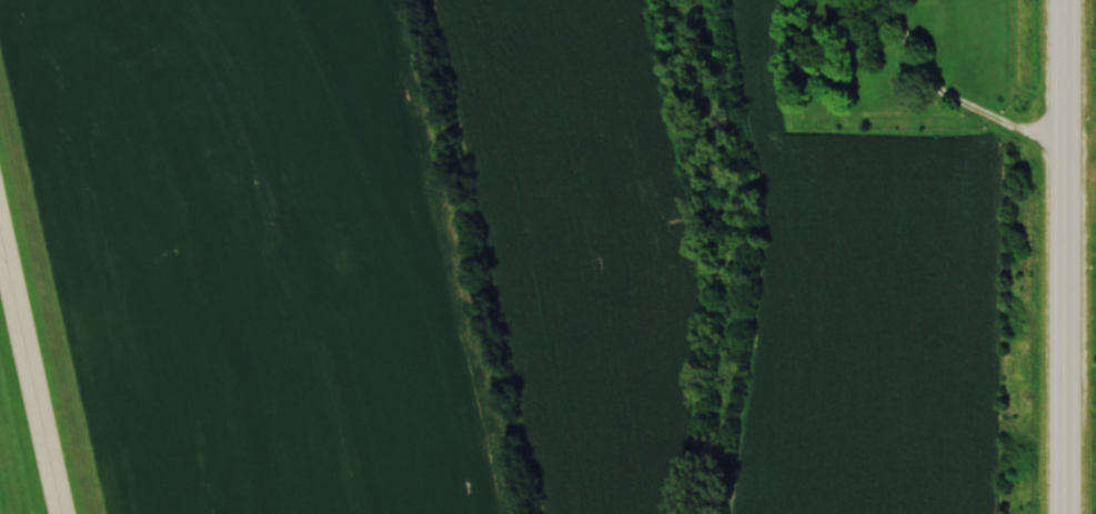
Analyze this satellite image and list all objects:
road: (948, 100)
road: (1062, 256)
airport taxiway: (29, 375)

